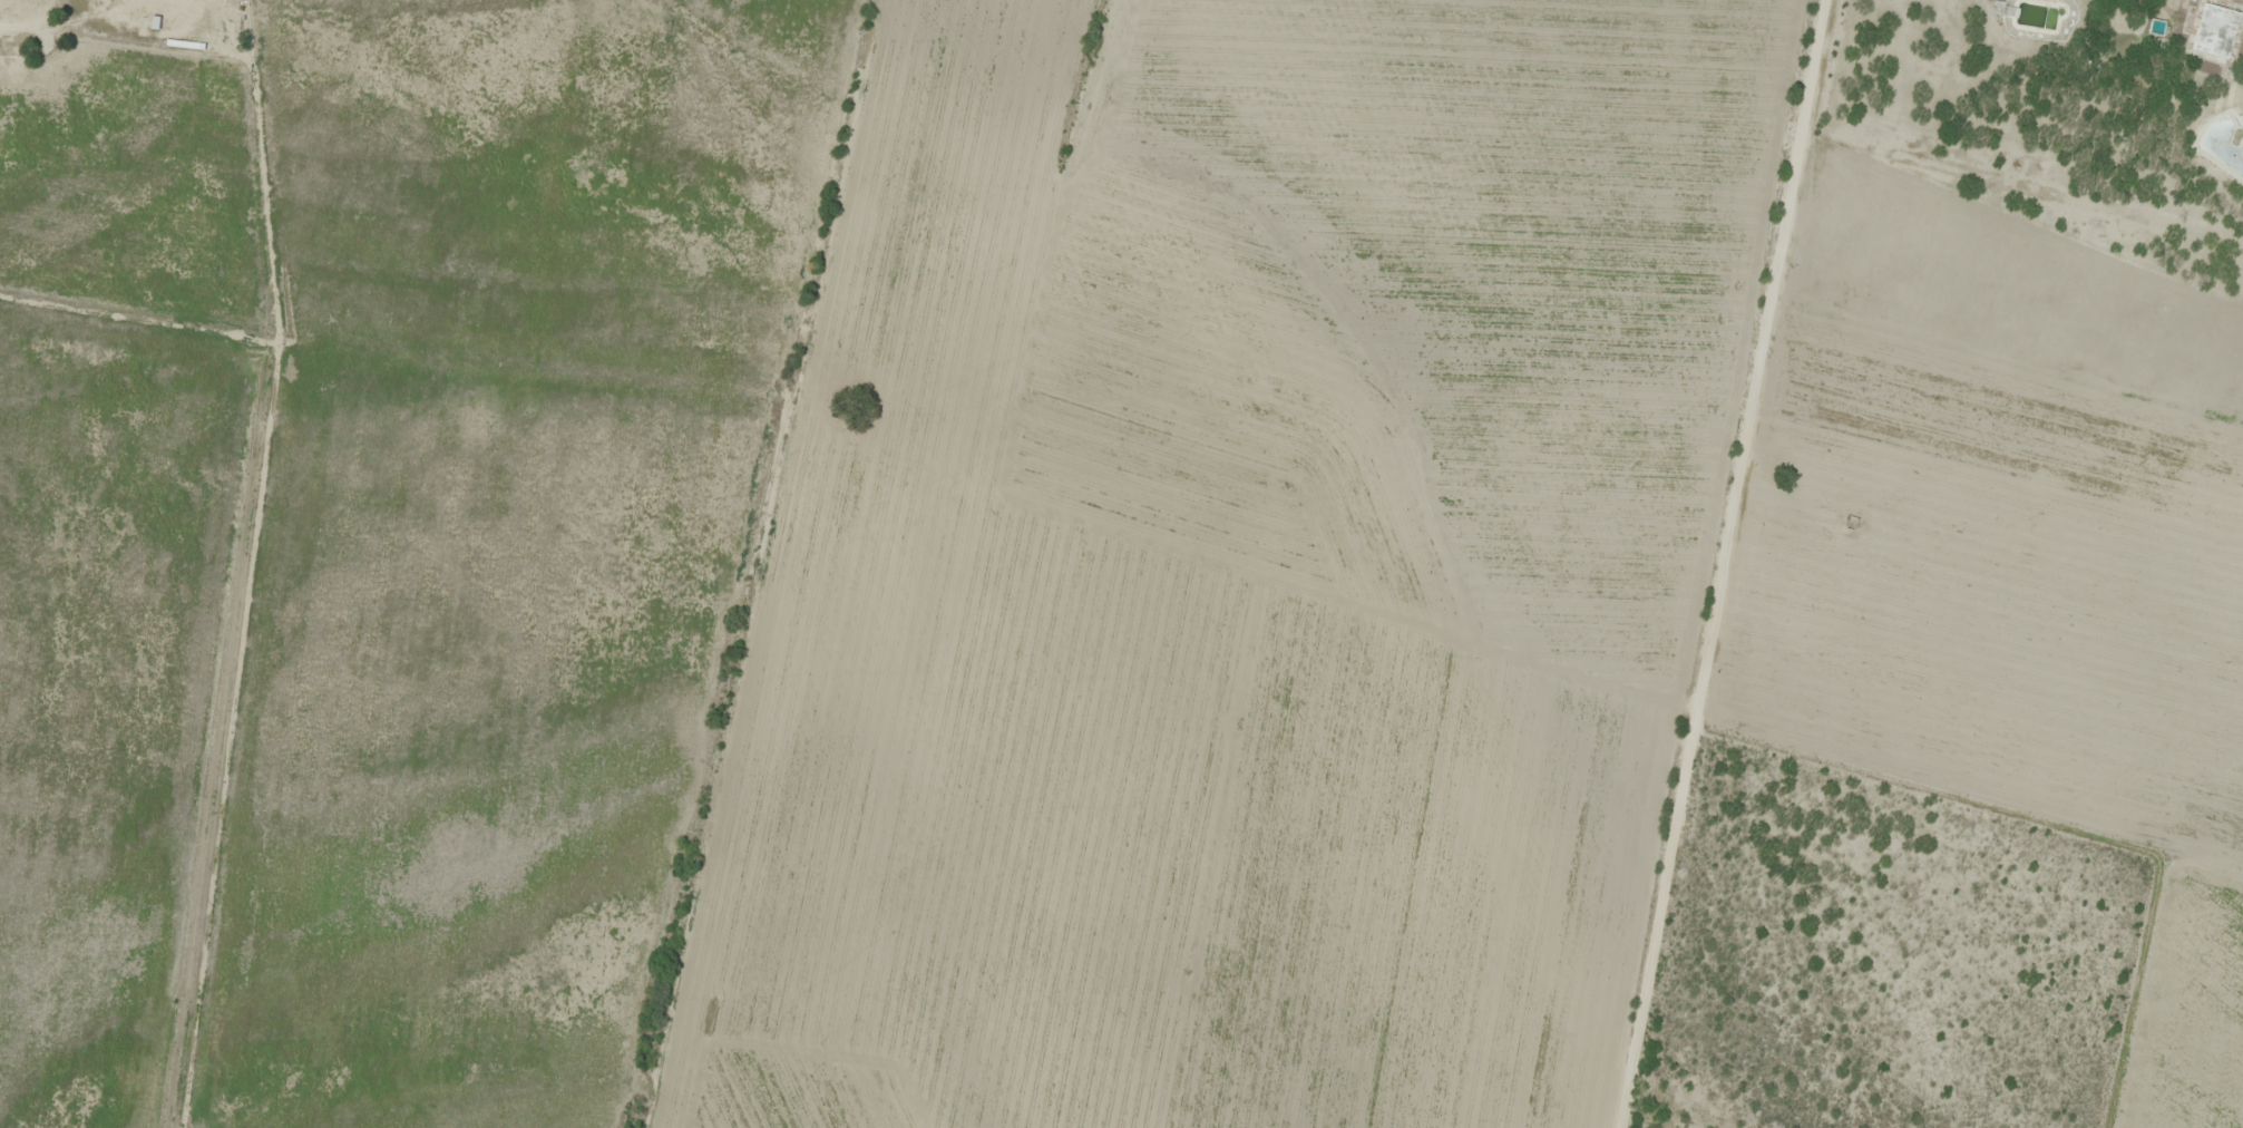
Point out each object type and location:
road: (1726, 564)

